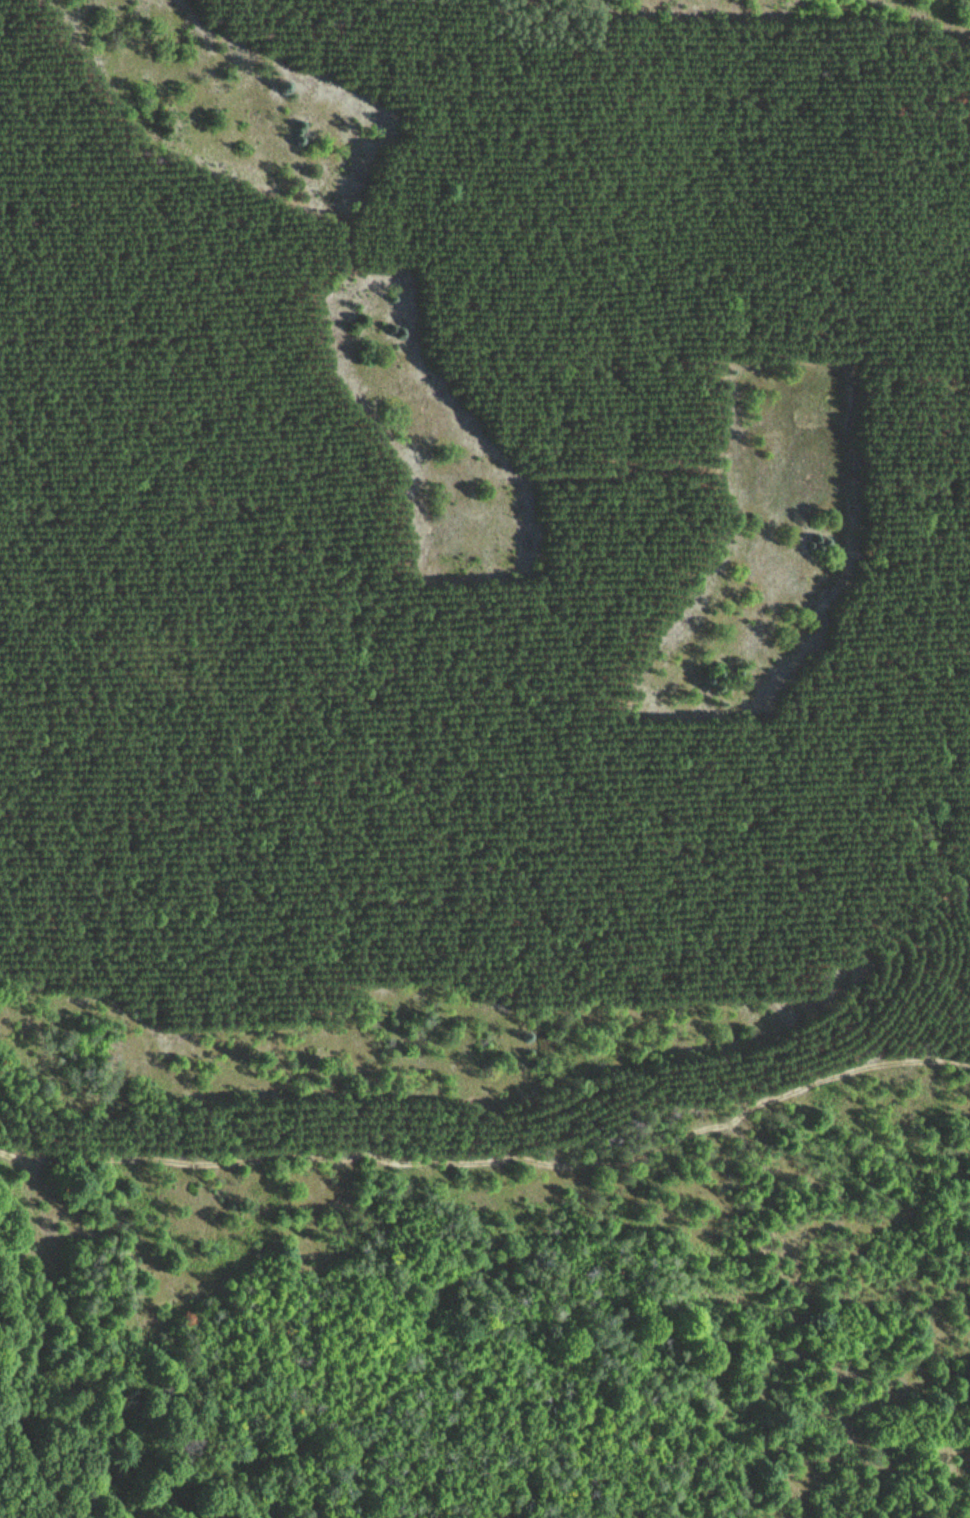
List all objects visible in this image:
road: (482, 929)
road: (10, 1167)

